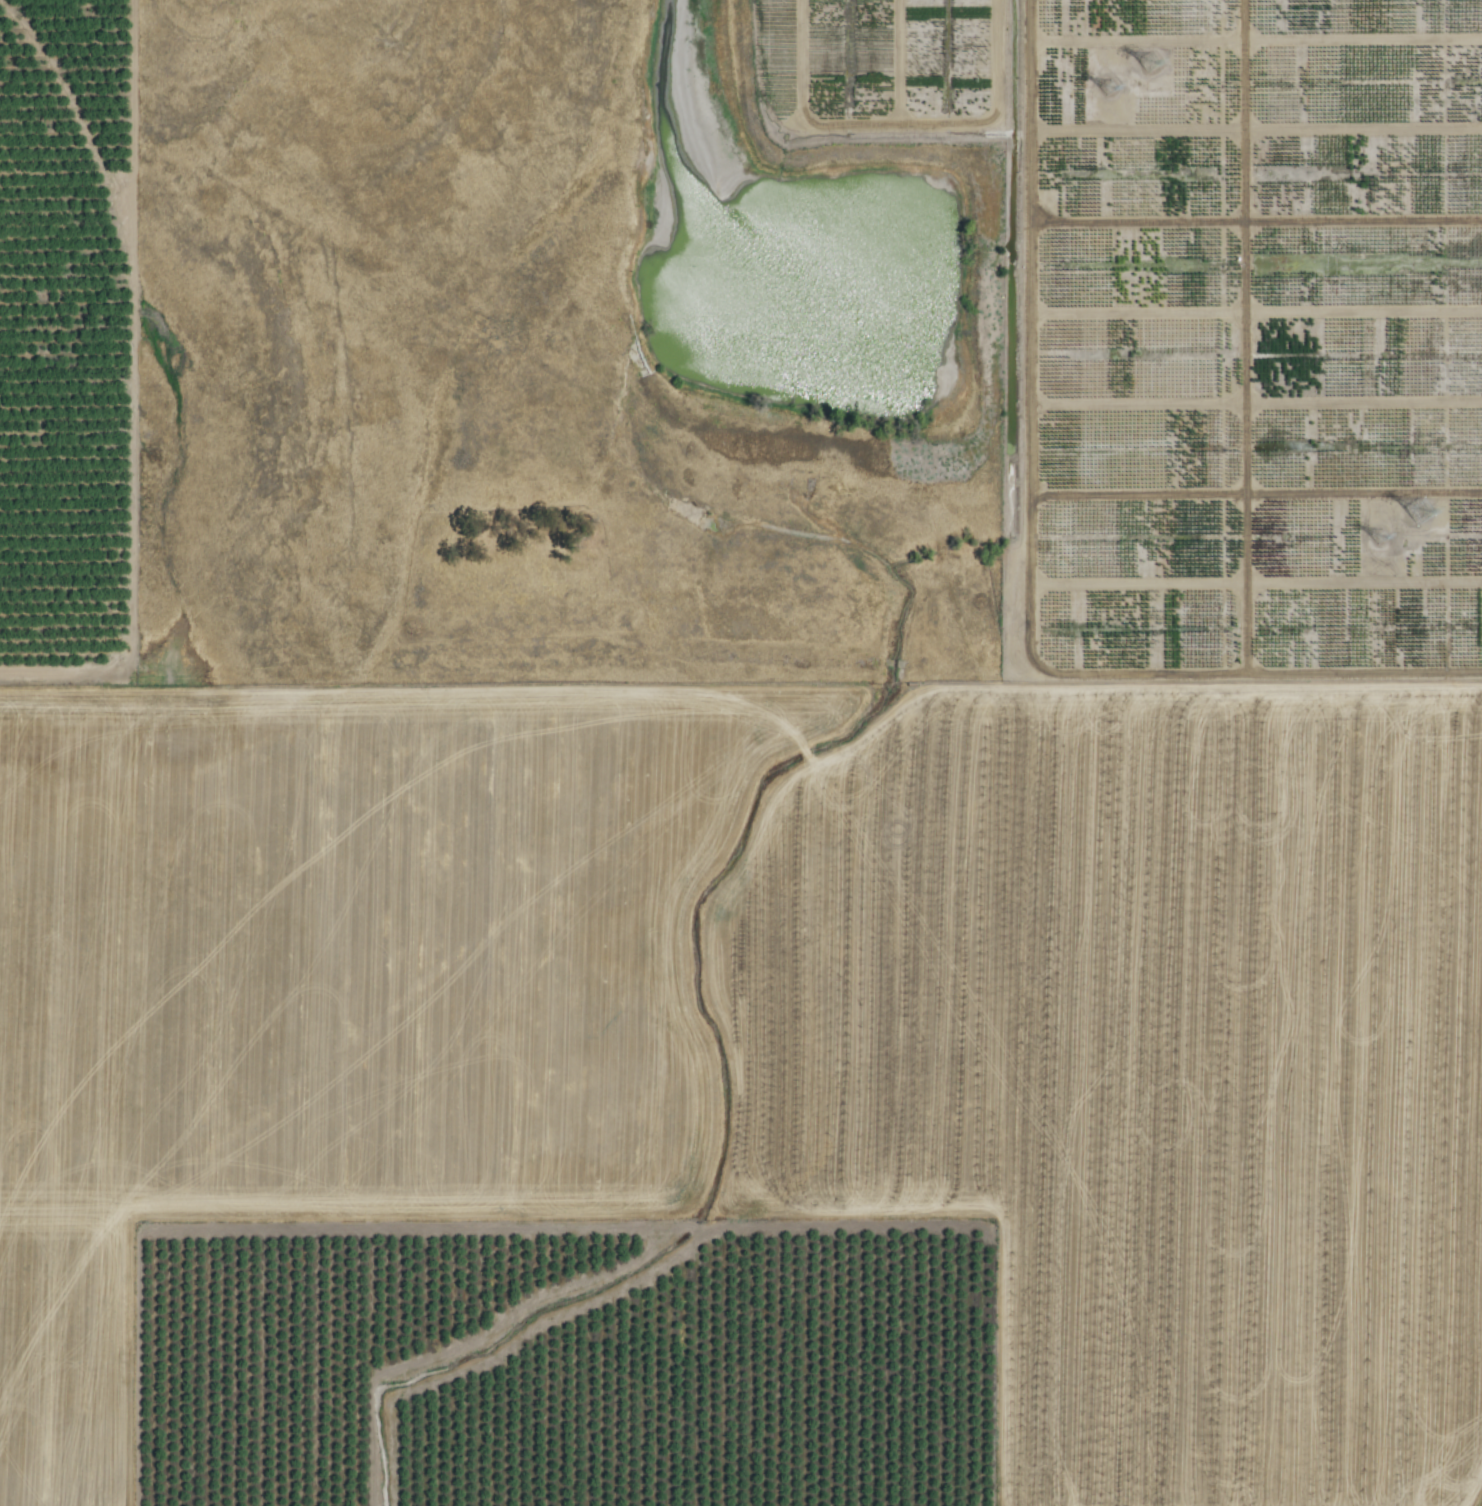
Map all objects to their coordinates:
power tower: (1149, 64)
power tower: (1105, 88)
power tower: (1417, 513)
power tower: (1378, 537)

